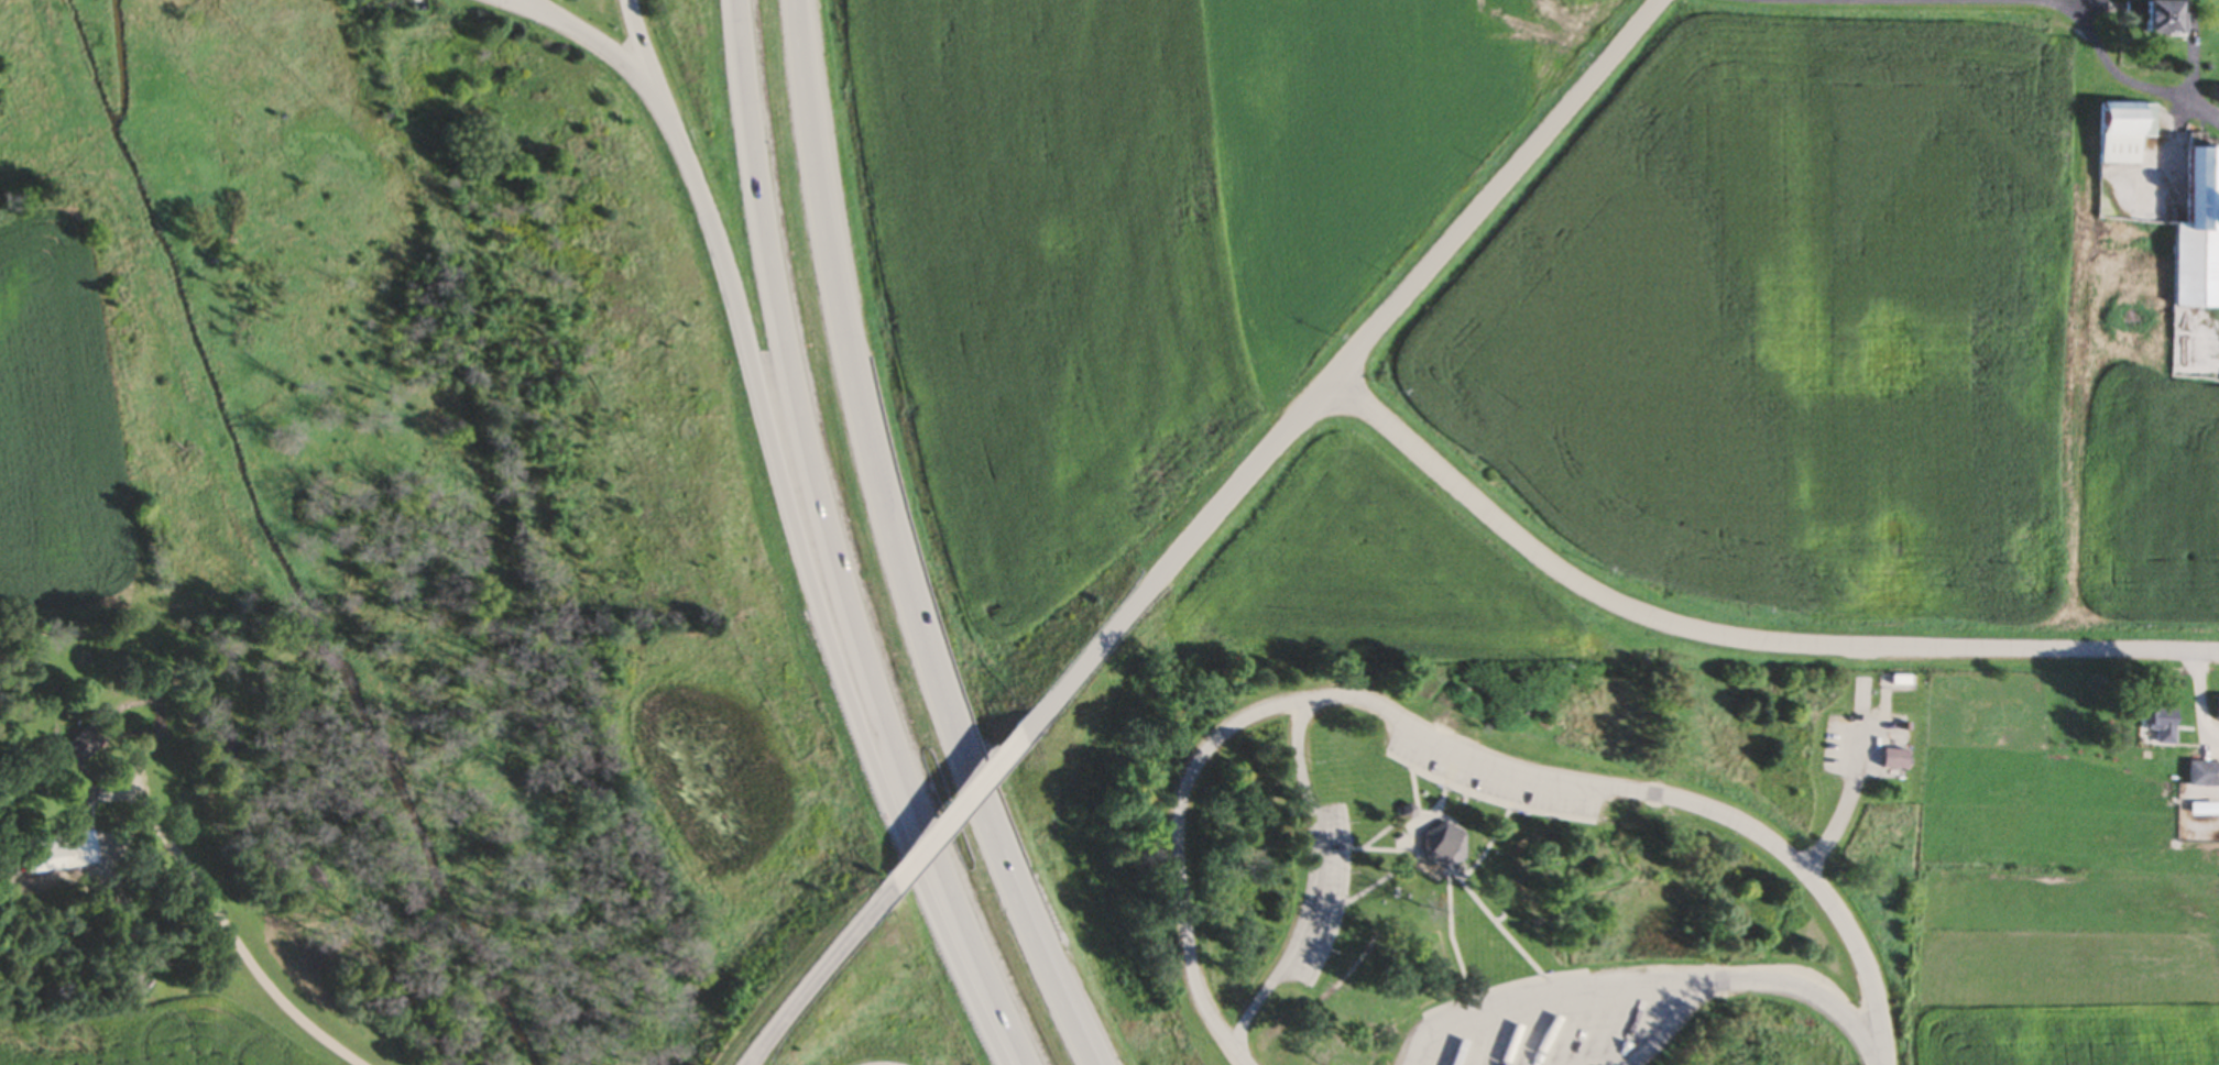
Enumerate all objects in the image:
road: (1986, 1)
parking lot: (511, 2)
building: (418, 3)
building: (2163, 19)
road: (611, 52)
road: (655, 65)
building: (2217, 97)
road: (805, 124)
building: (2124, 133)
building: (2198, 234)
road: (1338, 372)
road: (865, 446)
road: (834, 546)
crop: (1366, 572)
road: (821, 604)
road: (1734, 638)
building: (2162, 723)
building: (77, 748)
road: (1300, 754)
building: (1895, 760)
road: (1505, 766)
building: (2204, 776)
road: (1856, 783)
parking lot: (1494, 786)
building: (73, 789)
road: (1183, 806)
building: (1408, 813)
road: (951, 815)
building: (1443, 847)
road: (1016, 852)
building: (53, 854)
road: (995, 855)
road: (1805, 874)
parking lot: (1330, 899)
road: (1312, 901)
road: (812, 973)
road: (1811, 991)
road: (1549, 993)
road: (1255, 1014)
parking lot: (1566, 1022)
road: (1670, 1024)
building: (1598, 1030)
building: (1668, 1039)

